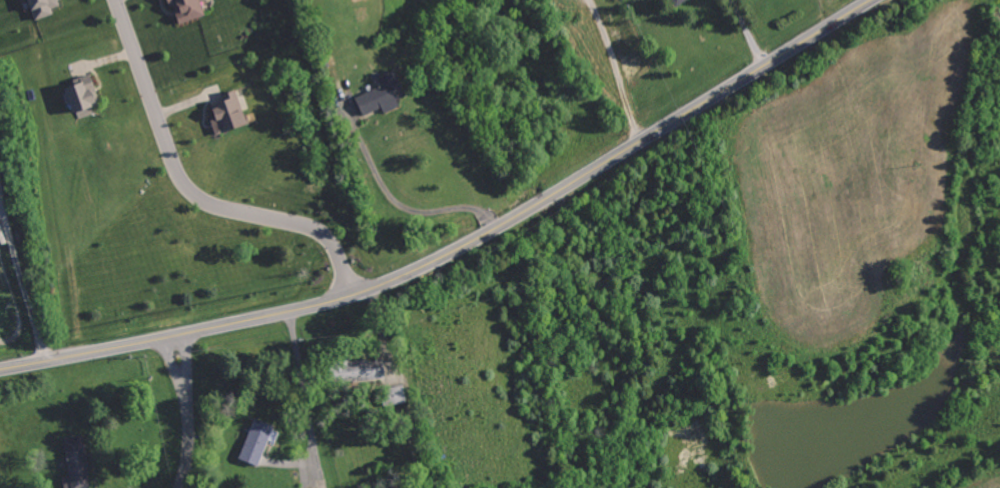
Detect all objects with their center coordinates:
building: (672, 2)
building: (37, 7)
building: (182, 9)
road: (747, 33)
building: (76, 93)
building: (377, 94)
building: (223, 113)
road: (189, 192)
road: (407, 203)
road: (461, 245)
road: (22, 286)
building: (351, 371)
road: (304, 392)
building: (389, 396)
road: (188, 411)
building: (251, 442)
building: (72, 463)

